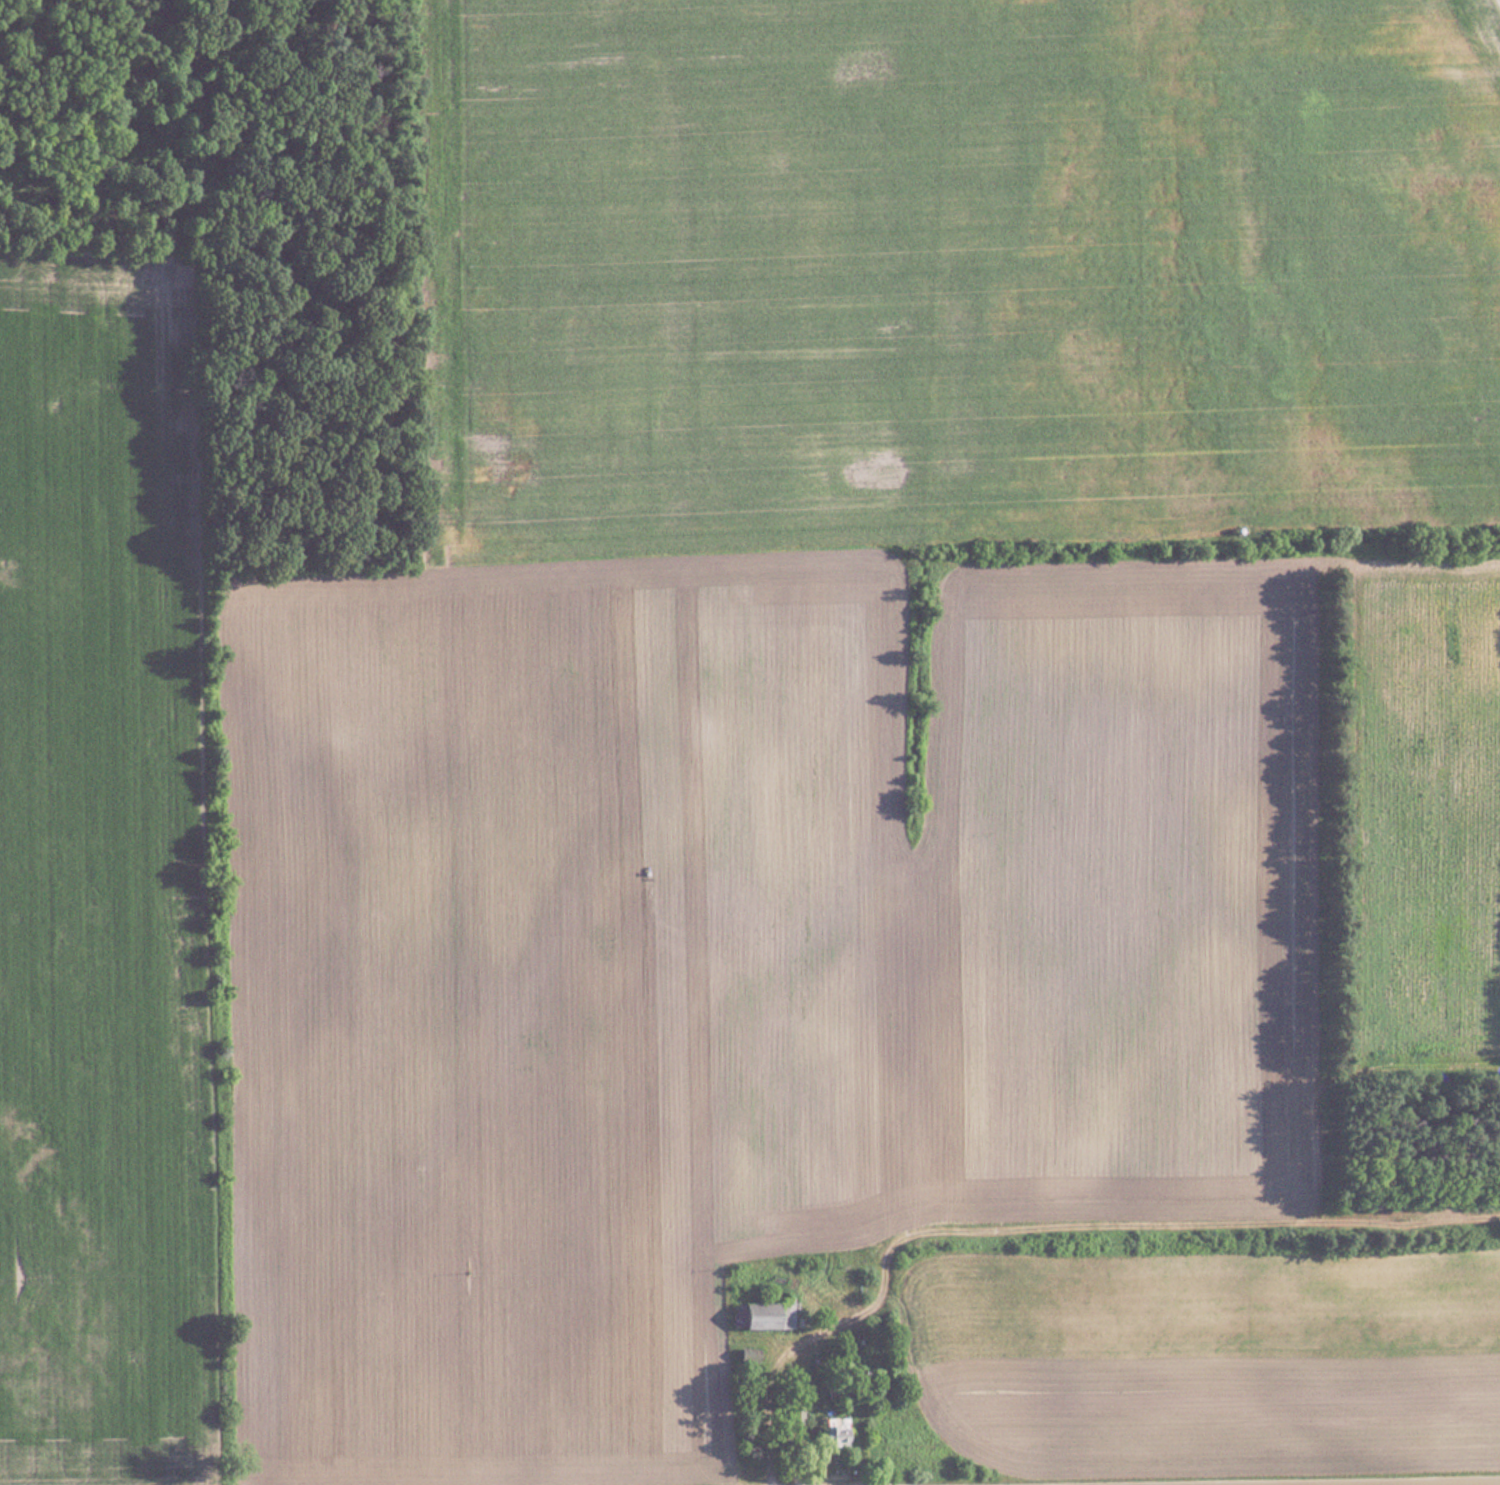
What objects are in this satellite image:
building: (762, 1316)
building: (832, 1433)
road: (1426, 1483)

